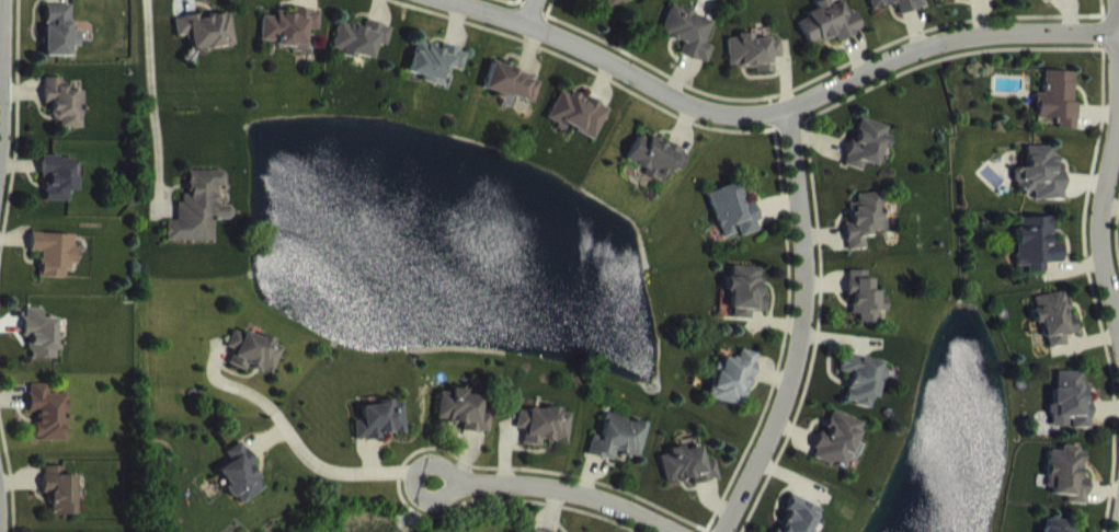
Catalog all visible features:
building: (592, 0)
building: (962, 5)
building: (1047, 5)
road: (1118, 5)
building: (614, 8)
building: (893, 11)
road: (529, 12)
building: (827, 36)
building: (286, 43)
building: (204, 45)
building: (57, 46)
building: (688, 46)
building: (358, 53)
building: (752, 67)
building: (434, 77)
road: (2, 86)
road: (151, 96)
building: (509, 96)
road: (774, 112)
building: (1055, 113)
building: (62, 117)
building: (576, 127)
building: (865, 159)
building: (654, 171)
building: (1040, 188)
building: (57, 193)
road: (1101, 207)
building: (197, 223)
building: (731, 225)
building: (863, 233)
building: (1035, 258)
building: (53, 268)
building: (743, 307)
building: (863, 311)
road: (803, 328)
building: (1053, 332)
building: (39, 349)
building: (251, 366)
building: (731, 392)
building: (861, 393)
building: (1069, 416)
building: (460, 425)
building: (47, 428)
building: (378, 435)
road: (290, 438)
building: (540, 440)
building: (617, 452)
building: (835, 454)
road: (414, 478)
building: (685, 479)
building: (239, 488)
building: (1066, 488)
road: (571, 490)
building: (58, 506)
building: (799, 523)

